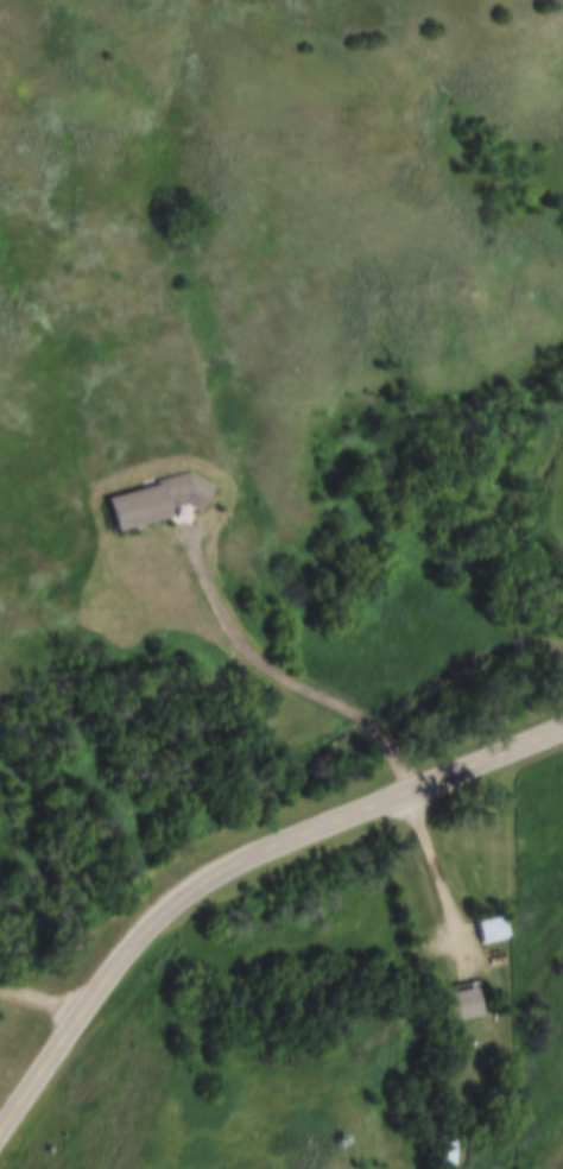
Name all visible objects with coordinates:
building: (165, 504)
road: (346, 709)
road: (230, 861)
building: (492, 931)
building: (466, 1006)
building: (449, 1151)

